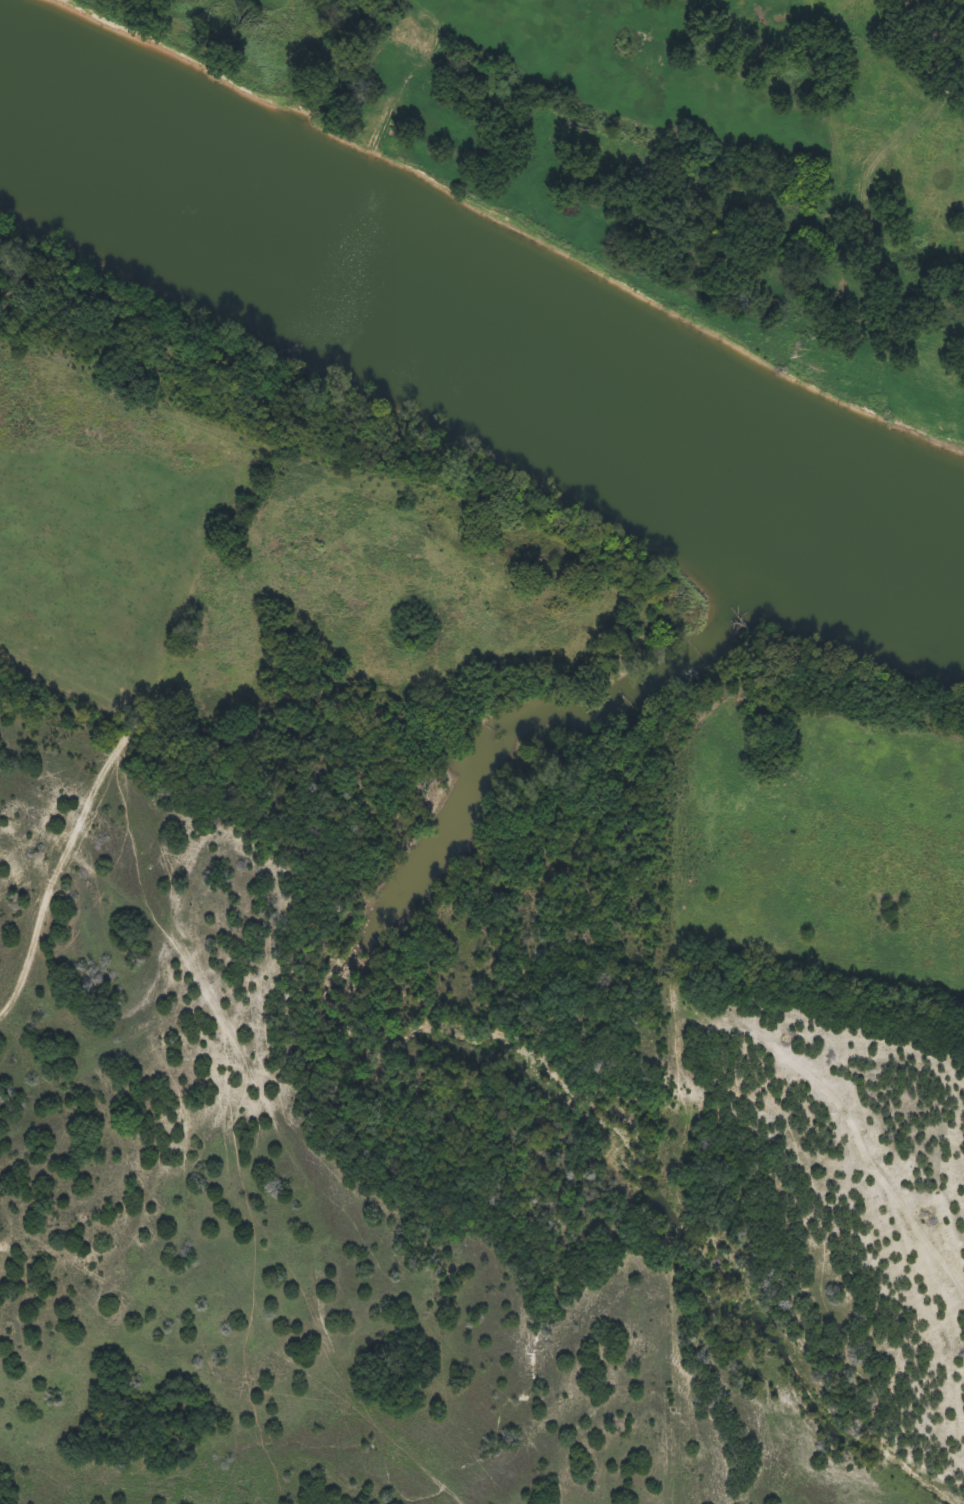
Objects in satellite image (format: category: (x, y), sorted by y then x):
road: (160, 2)
river: (481, 329)
road: (76, 902)

